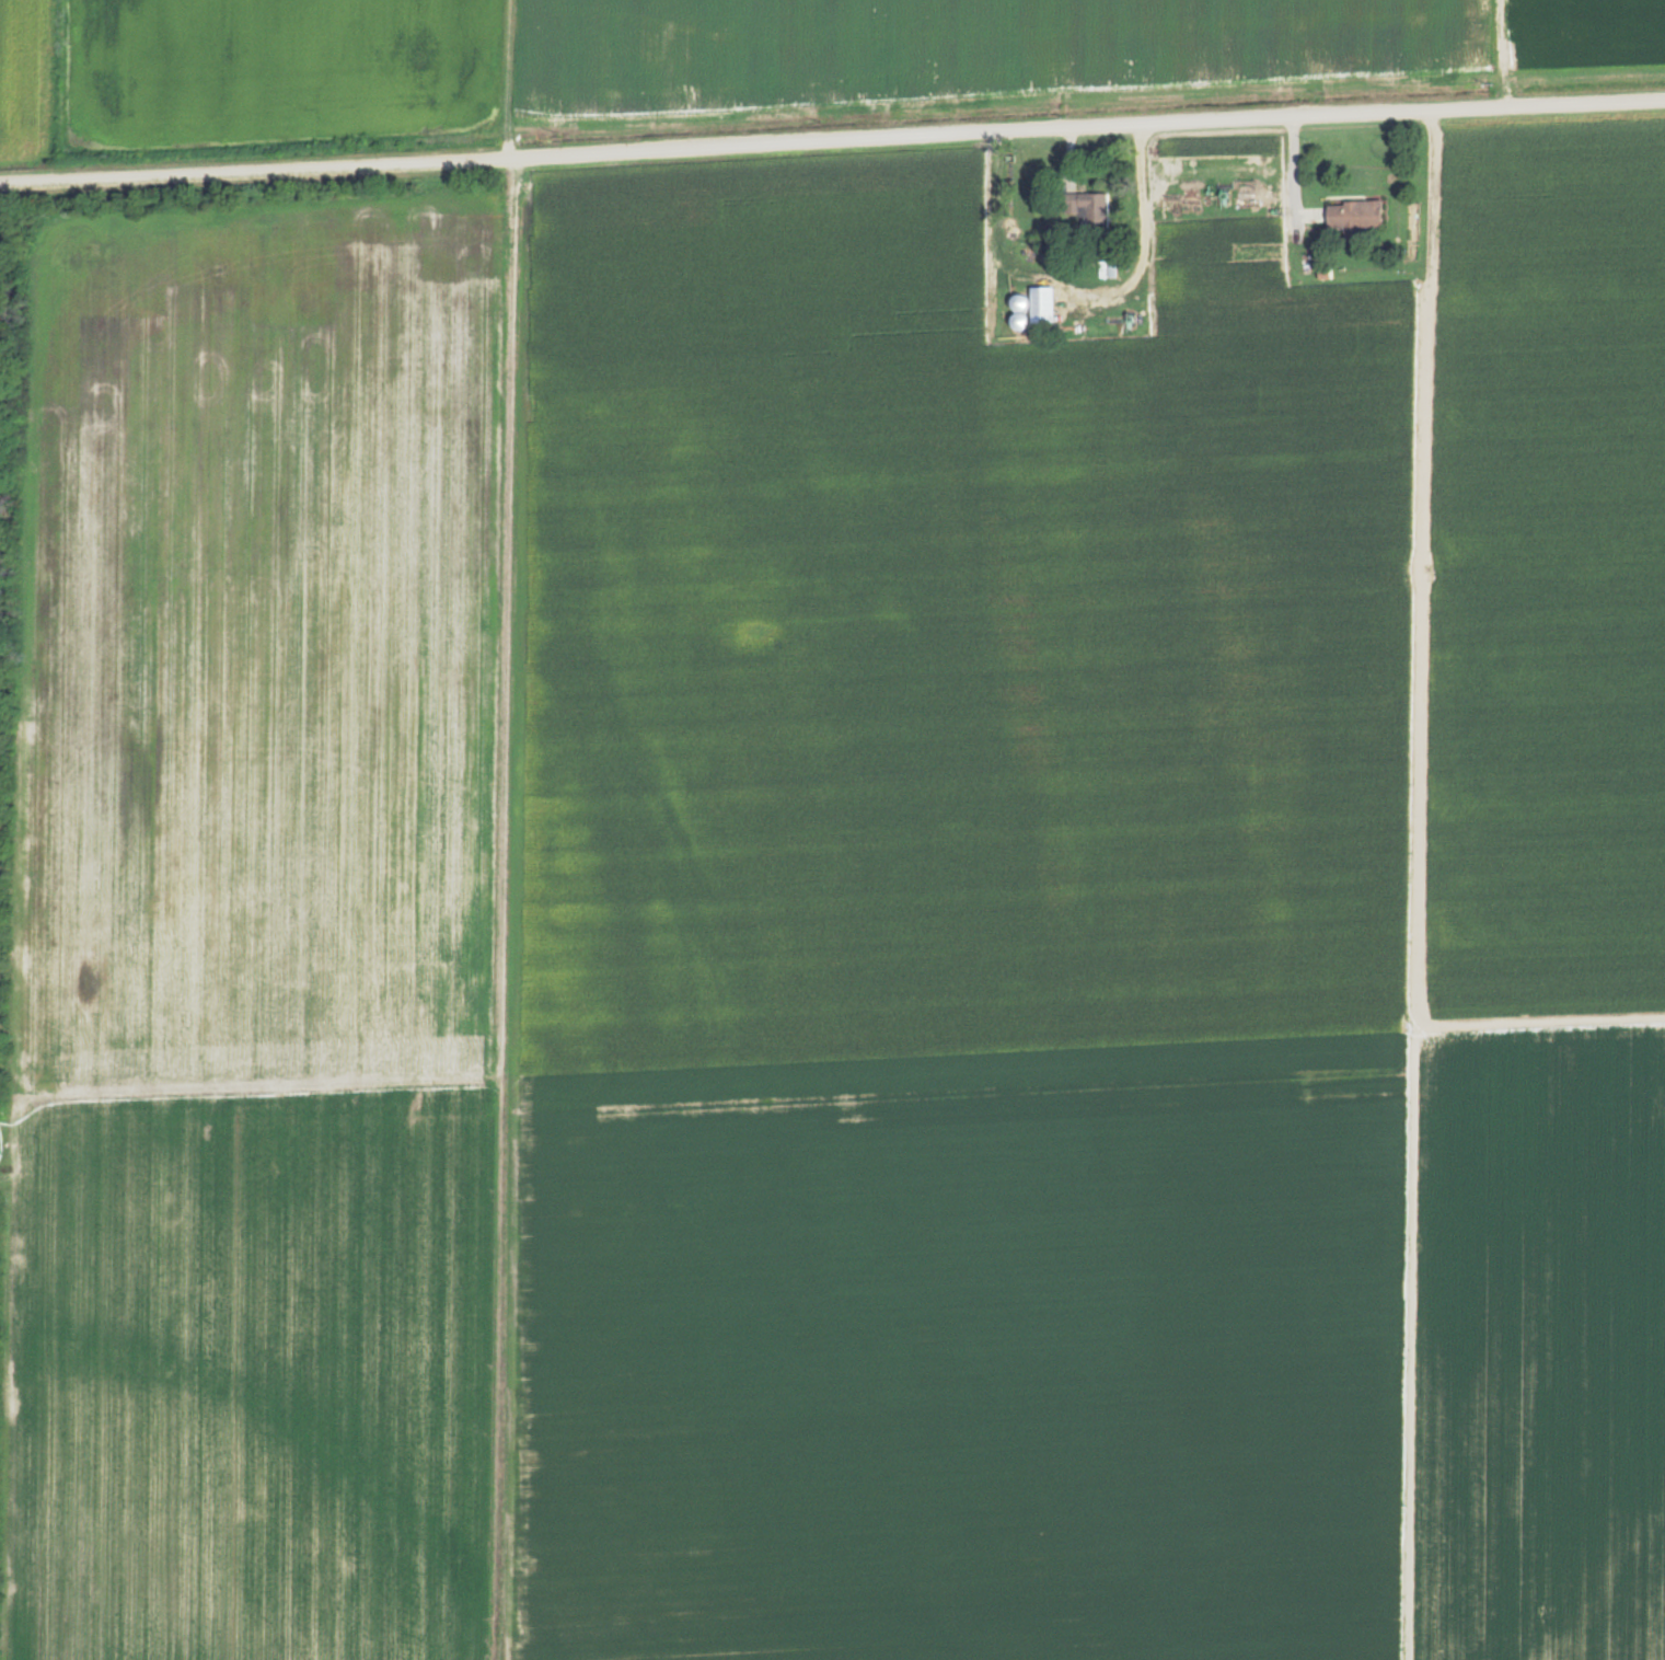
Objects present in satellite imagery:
road: (832, 139)
road: (1299, 175)
building: (1092, 206)
building: (1358, 216)

